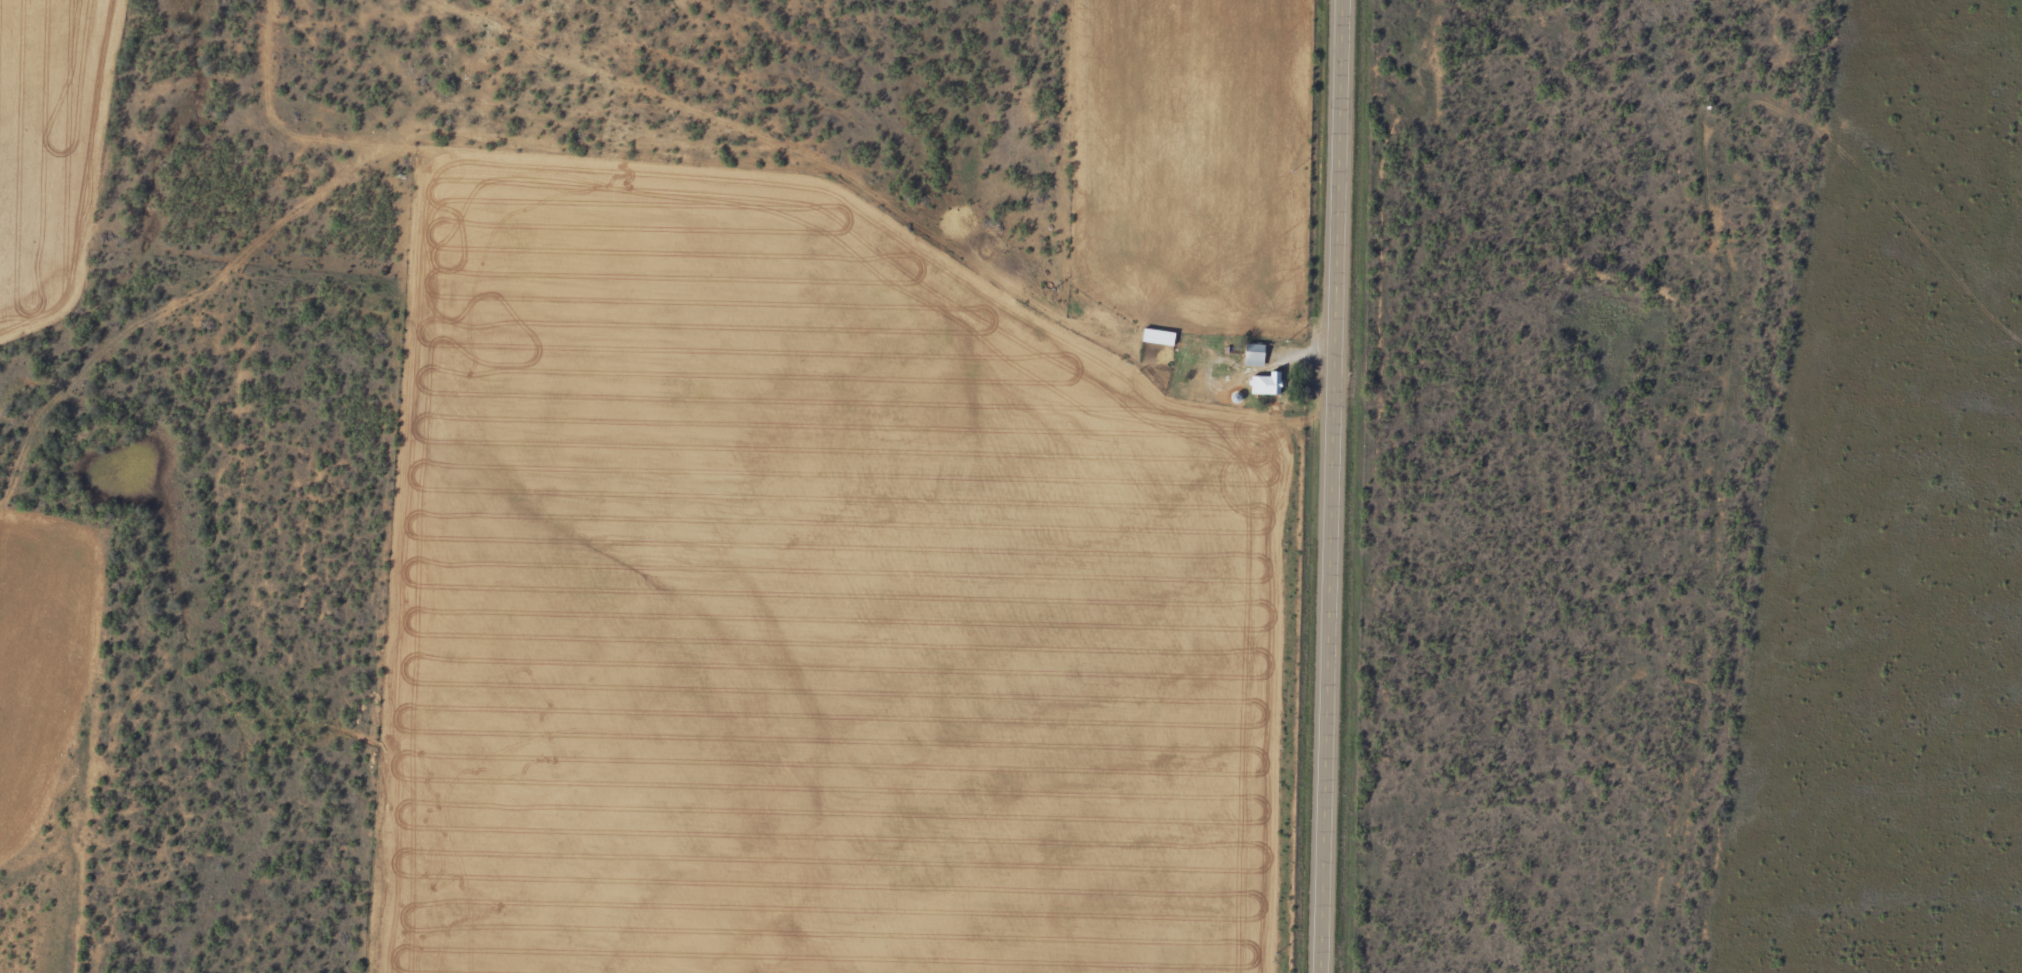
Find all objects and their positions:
road: (1711, 332)
building: (1157, 337)
building: (1253, 355)
building: (1265, 384)
road: (1335, 486)

